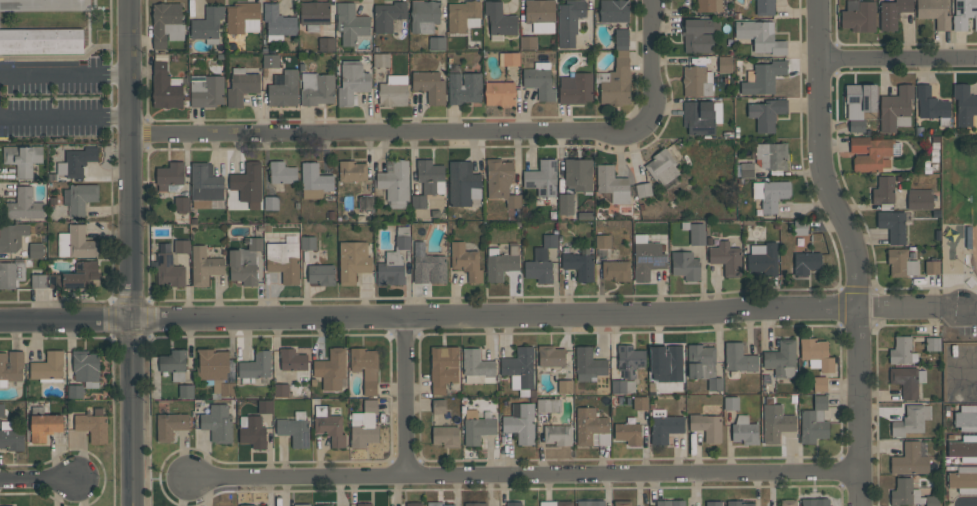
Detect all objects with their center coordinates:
building: (44, 5)
building: (709, 6)
building: (765, 7)
building: (613, 10)
building: (934, 12)
building: (893, 13)
building: (964, 13)
building: (314, 14)
building: (463, 15)
building: (540, 15)
building: (859, 15)
building: (388, 16)
building: (424, 16)
building: (243, 18)
building: (499, 21)
building: (569, 21)
building: (166, 23)
building: (278, 23)
building: (351, 24)
building: (207, 25)
building: (698, 35)
building: (760, 36)
building: (621, 39)
building: (41, 41)
building: (528, 42)
building: (437, 43)
building: (326, 44)
building: (509, 59)
road: (900, 59)
building: (381, 60)
building: (271, 61)
building: (724, 64)
road: (65, 74)
building: (763, 77)
building: (539, 80)
building: (696, 81)
building: (352, 82)
building: (615, 82)
building: (241, 86)
building: (430, 86)
building: (165, 87)
building: (464, 87)
building: (283, 88)
building: (317, 89)
building: (575, 89)
building: (393, 90)
building: (207, 92)
building: (500, 93)
building: (859, 104)
building: (964, 105)
building: (932, 106)
building: (896, 109)
building: (766, 113)
building: (701, 117)
road: (65, 118)
road: (455, 134)
building: (870, 154)
building: (772, 155)
road: (824, 158)
building: (22, 159)
building: (76, 161)
building: (662, 166)
building: (744, 170)
building: (352, 171)
building: (282, 173)
building: (578, 174)
building: (170, 176)
building: (542, 178)
building: (428, 181)
building: (501, 181)
building: (314, 182)
building: (248, 183)
building: (395, 183)
building: (463, 183)
building: (612, 184)
building: (204, 185)
building: (643, 189)
building: (884, 190)
building: (770, 193)
building: (79, 198)
building: (919, 199)
building: (271, 202)
building: (365, 203)
building: (181, 204)
building: (565, 204)
building: (24, 205)
park: (971, 219)
building: (893, 225)
building: (800, 227)
building: (697, 234)
building: (12, 237)
building: (403, 237)
building: (603, 241)
park: (961, 241)
building: (76, 242)
building: (308, 243)
building: (181, 246)
building: (36, 250)
road: (132, 253)
building: (647, 257)
building: (726, 258)
building: (763, 259)
building: (541, 260)
building: (283, 261)
building: (353, 261)
building: (466, 261)
building: (501, 262)
building: (806, 262)
building: (245, 263)
building: (901, 263)
building: (579, 264)
building: (685, 265)
building: (204, 266)
building: (428, 266)
building: (932, 267)
building: (390, 269)
building: (616, 270)
building: (169, 271)
building: (10, 274)
building: (321, 274)
building: (76, 276)
building: (38, 281)
road: (900, 310)
road: (959, 310)
road: (430, 316)
building: (932, 344)
building: (902, 351)
building: (816, 354)
building: (551, 356)
building: (739, 358)
building: (781, 359)
building: (292, 360)
building: (629, 360)
building: (364, 362)
building: (666, 363)
building: (174, 364)
building: (588, 364)
building: (703, 365)
building: (212, 366)
building: (256, 366)
building: (11, 367)
building: (477, 367)
building: (48, 368)
building: (85, 368)
building: (443, 368)
building: (331, 369)
building: (520, 370)
building: (907, 381)
building: (820, 384)
building: (565, 386)
building: (622, 386)
building: (370, 388)
building: (227, 389)
building: (281, 390)
building: (75, 391)
building: (186, 391)
road: (405, 396)
building: (640, 403)
building: (731, 403)
building: (548, 405)
building: (265, 406)
building: (439, 406)
road: (860, 408)
building: (2, 410)
building: (966, 418)
building: (911, 420)
building: (814, 421)
building: (218, 423)
building: (520, 423)
building: (776, 423)
building: (170, 425)
building: (364, 425)
building: (45, 426)
building: (329, 426)
building: (664, 426)
building: (706, 426)
building: (92, 427)
building: (476, 427)
building: (591, 428)
building: (252, 431)
building: (294, 431)
building: (744, 431)
building: (628, 433)
building: (558, 435)
building: (10, 436)
building: (445, 436)
building: (964, 448)
building: (909, 460)
road: (525, 474)
building: (964, 479)
road: (40, 481)
building: (910, 494)
building: (590, 502)
building: (788, 502)
building: (815, 502)
building: (555, 503)
building: (622, 503)
building: (670, 503)
building: (713, 503)
building: (738, 503)
building: (364, 504)
building: (414, 504)
building: (437, 504)
building: (475, 504)
building: (514, 504)
building: (247, 505)
building: (255, 505)
building: (301, 505)
building: (323, 505)

